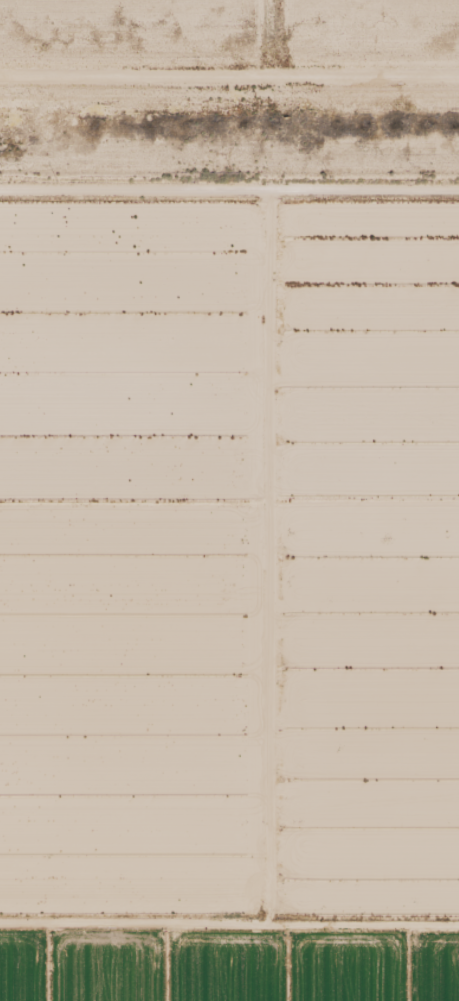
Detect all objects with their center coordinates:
airport: (229, 88)
road: (229, 188)
road: (243, 594)
road: (229, 694)
crop: (227, 965)

